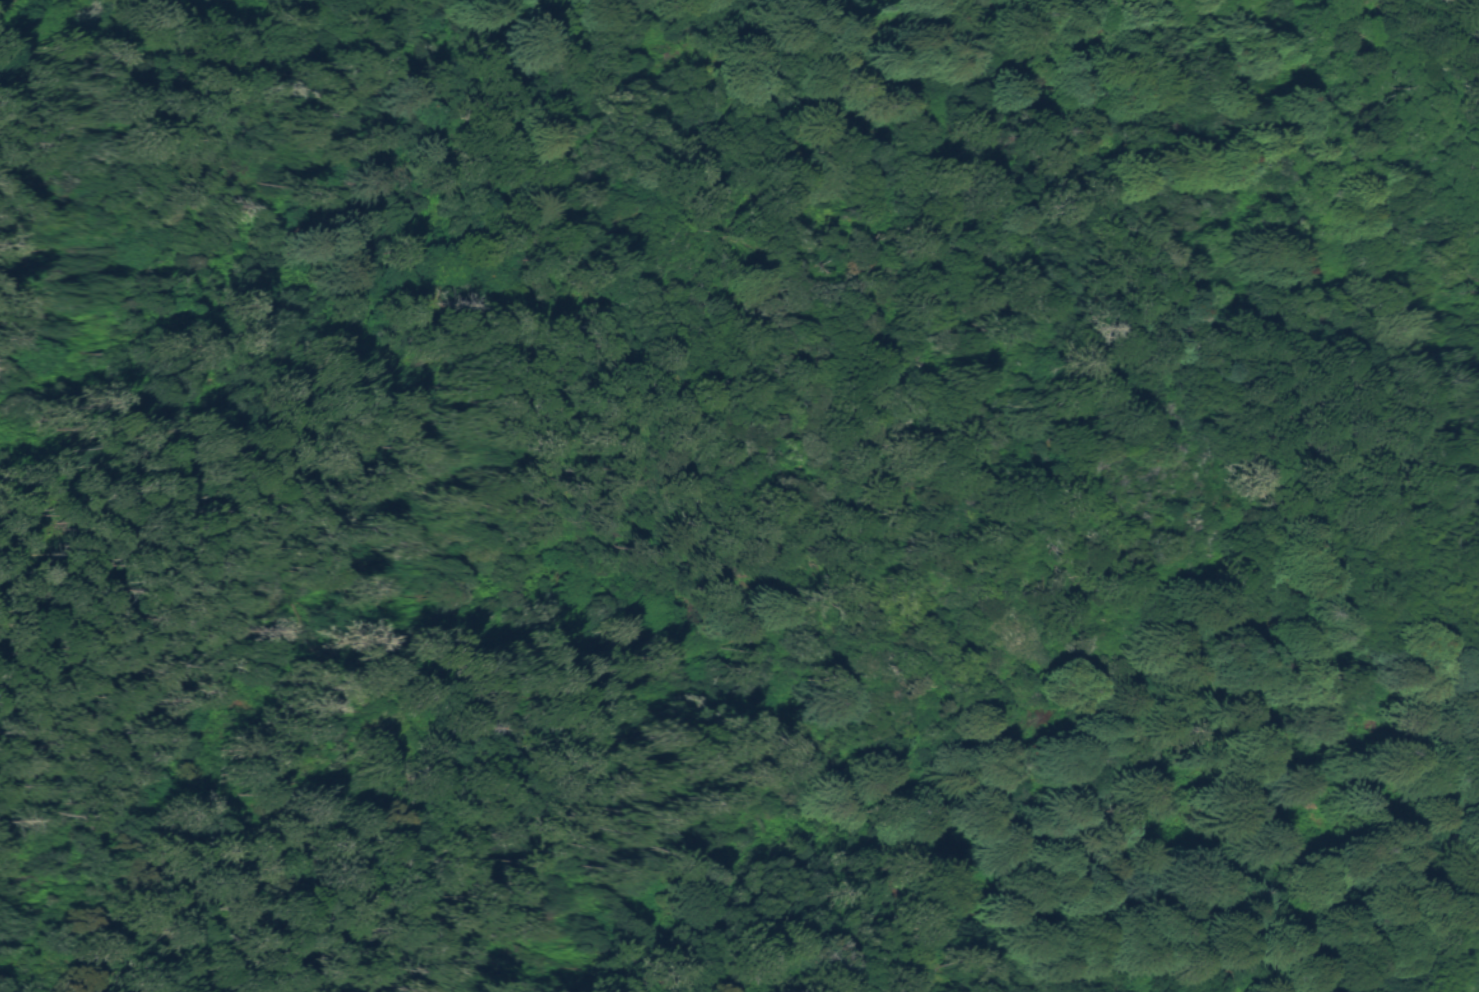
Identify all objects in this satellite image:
road: (1461, 15)

